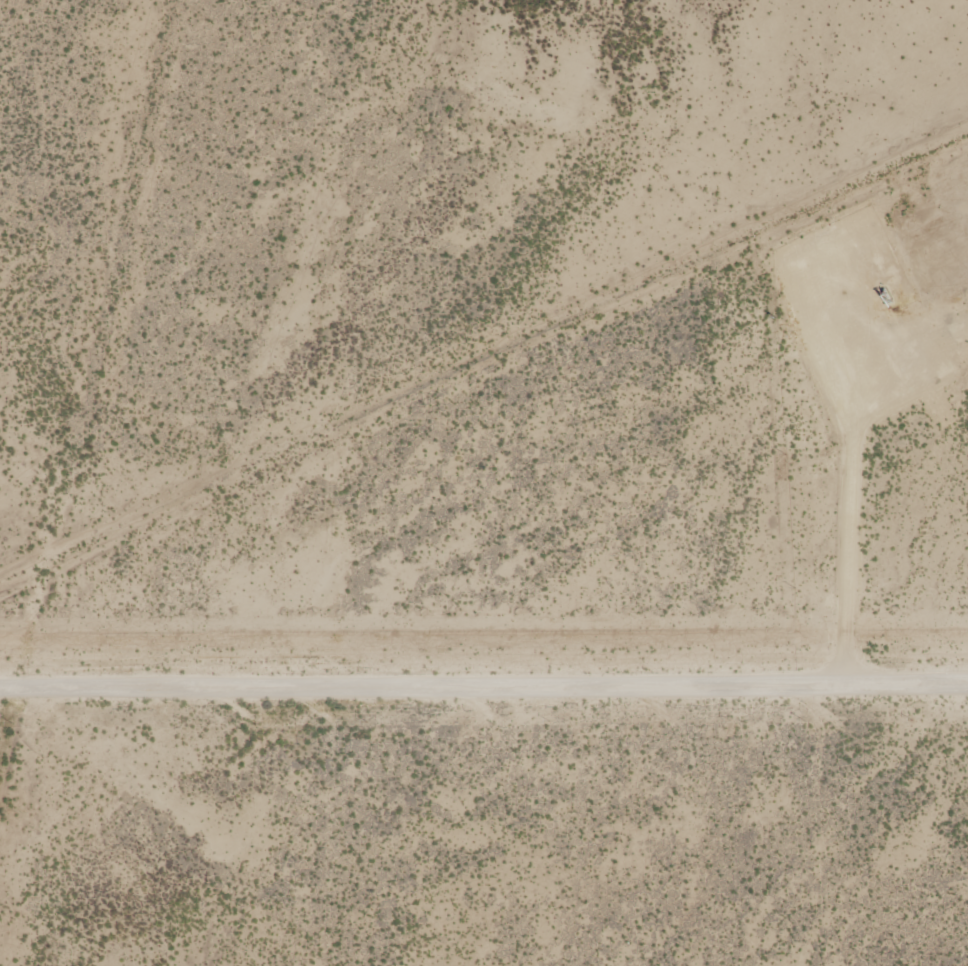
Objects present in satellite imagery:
road: (84, 357)
road: (484, 683)

